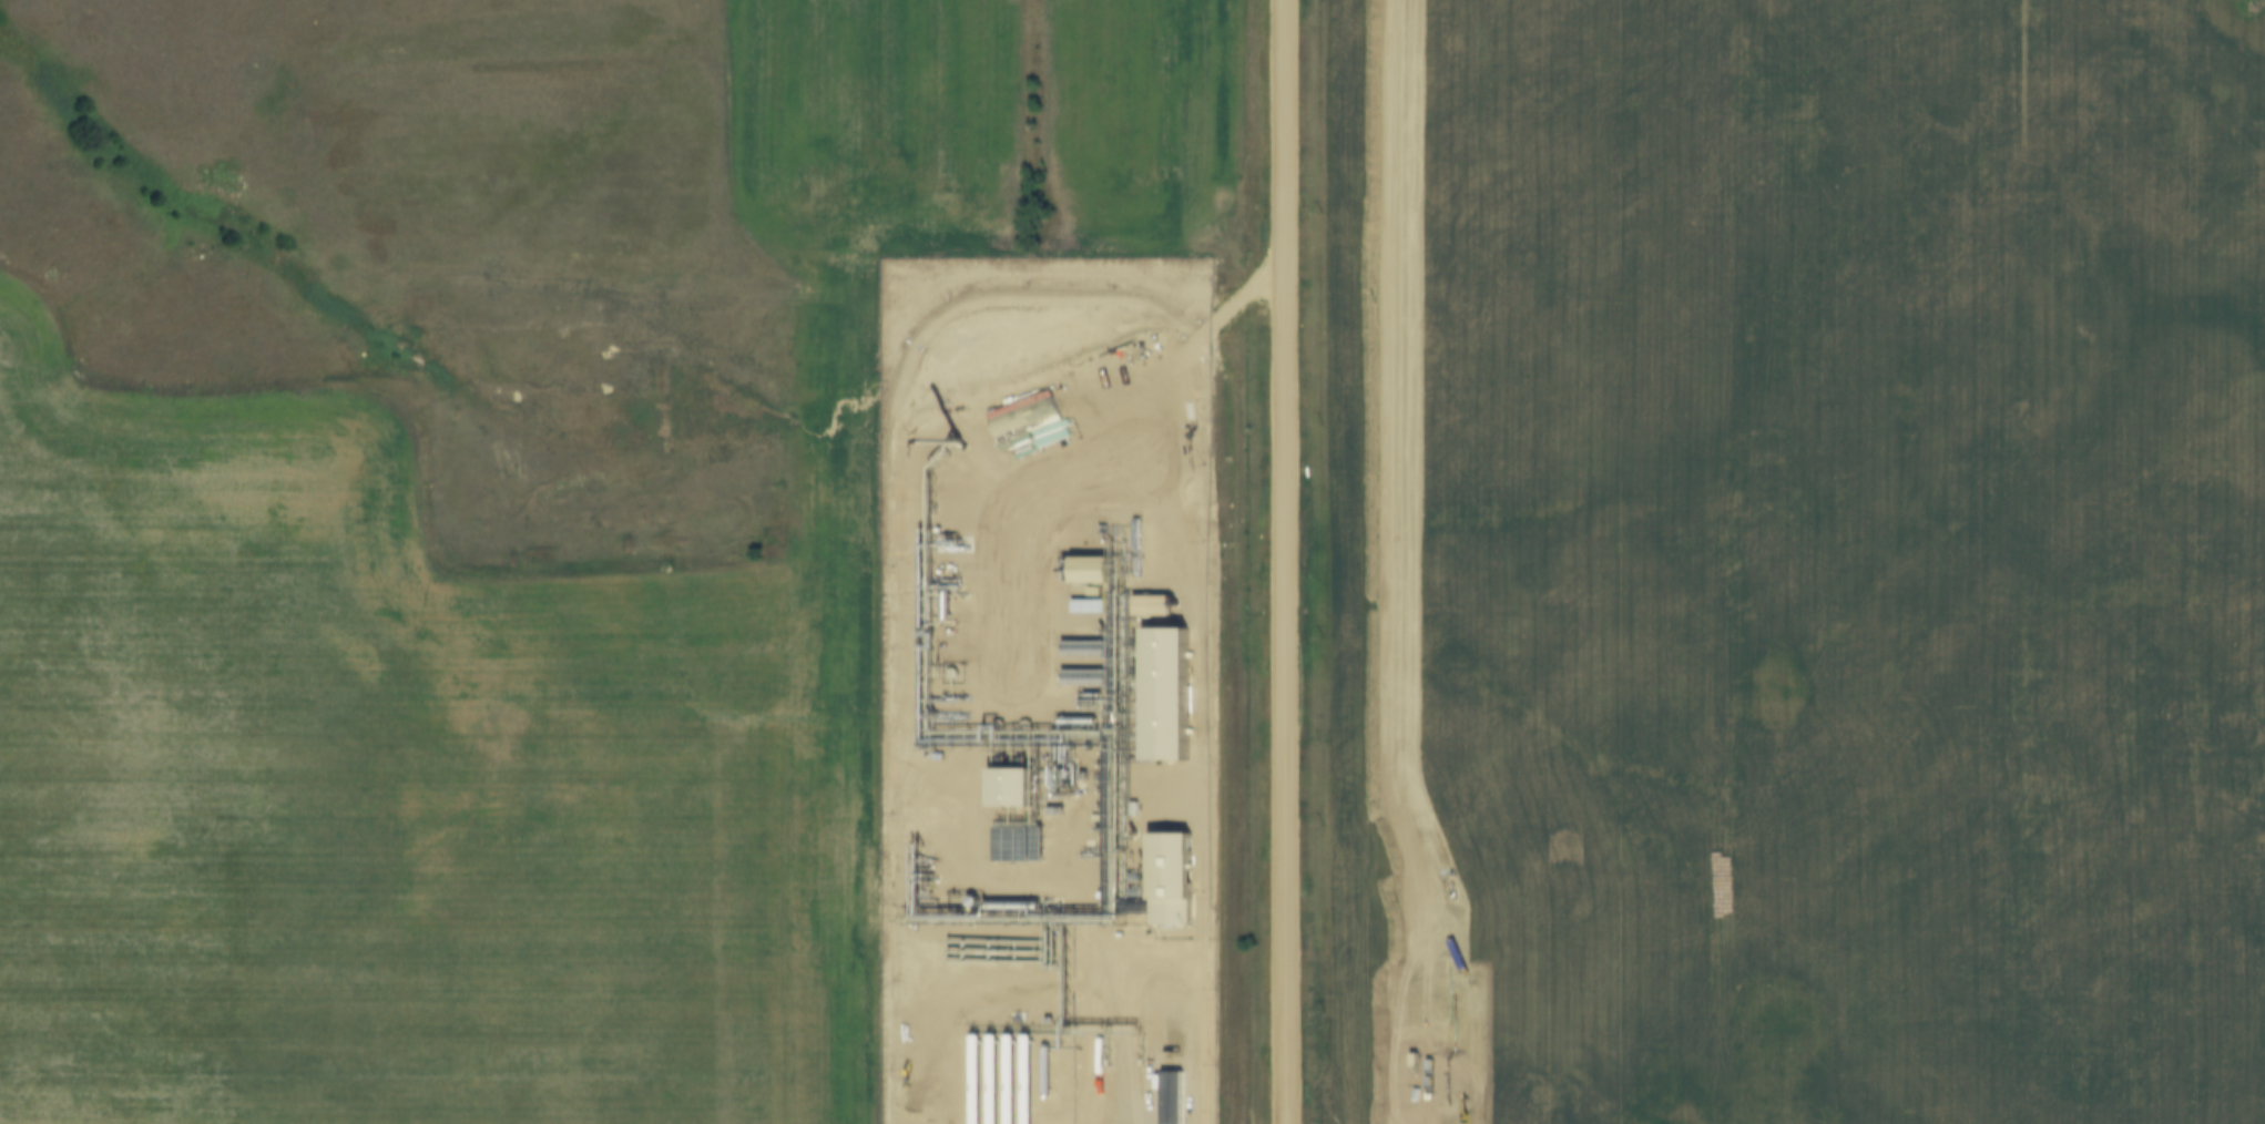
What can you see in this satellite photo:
road: (1040, 303)
road: (1282, 562)

